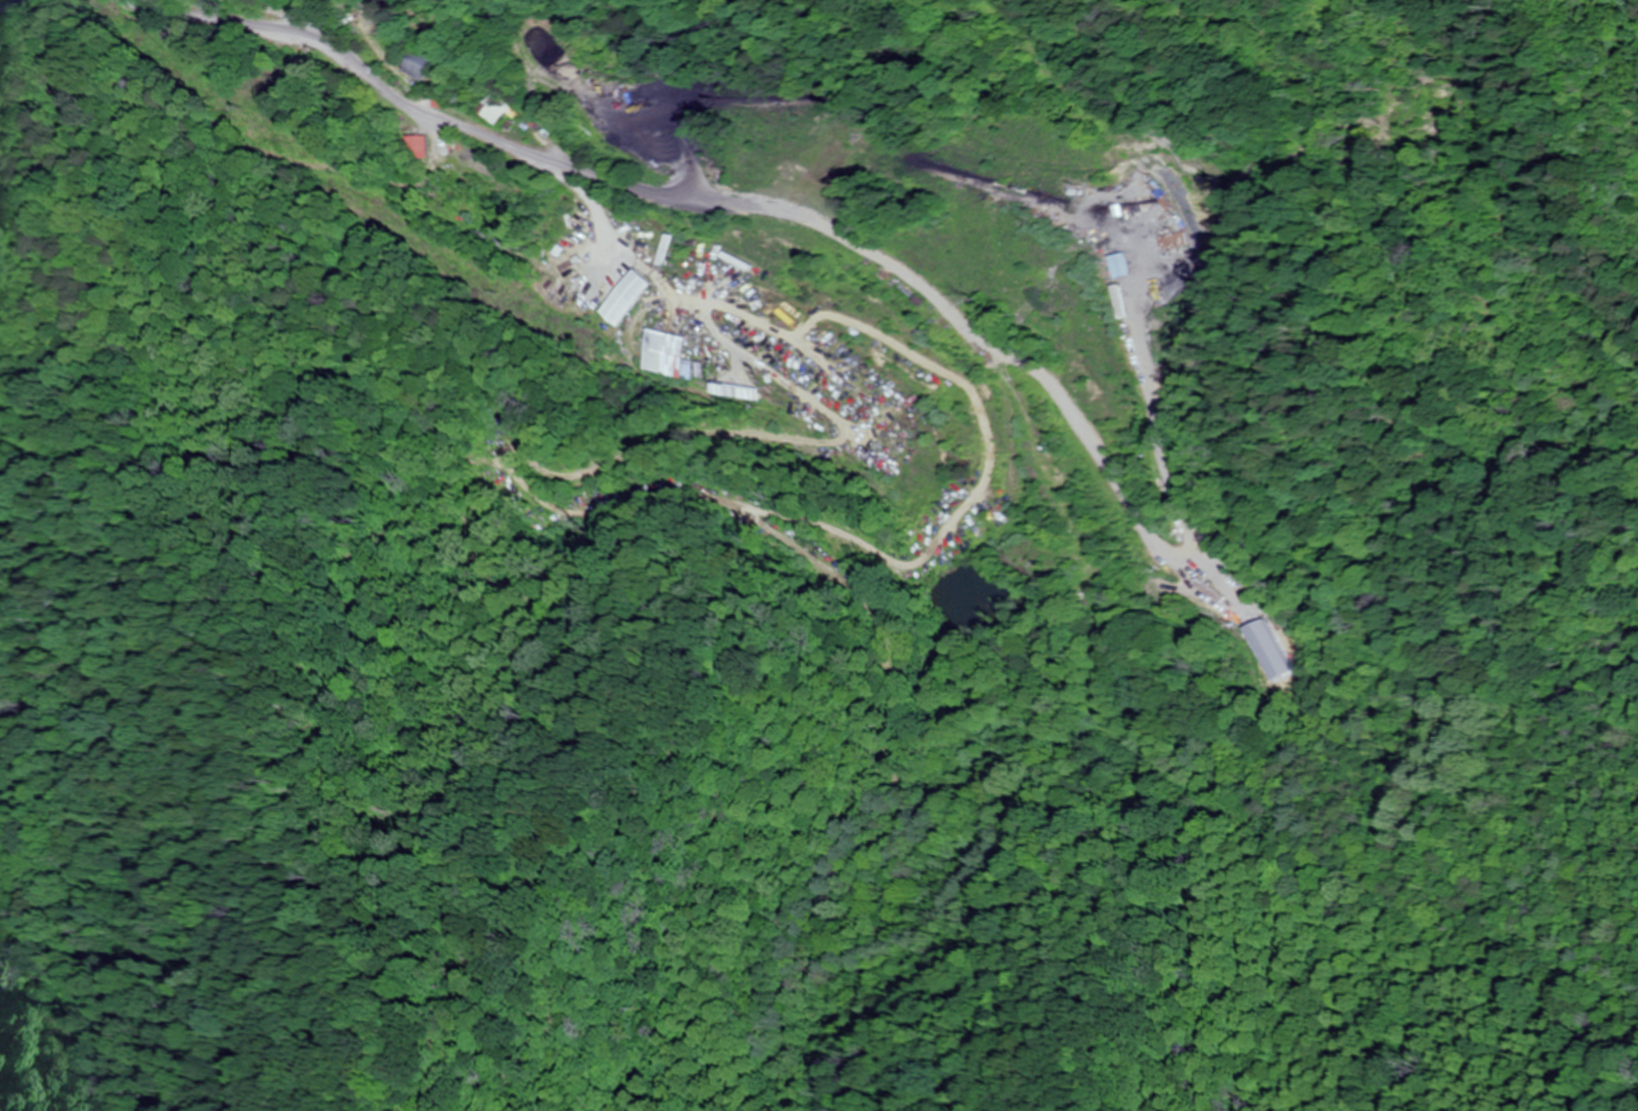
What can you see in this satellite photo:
road: (21, 8)
building: (421, 63)
building: (500, 105)
building: (418, 146)
building: (735, 323)
building: (661, 352)

